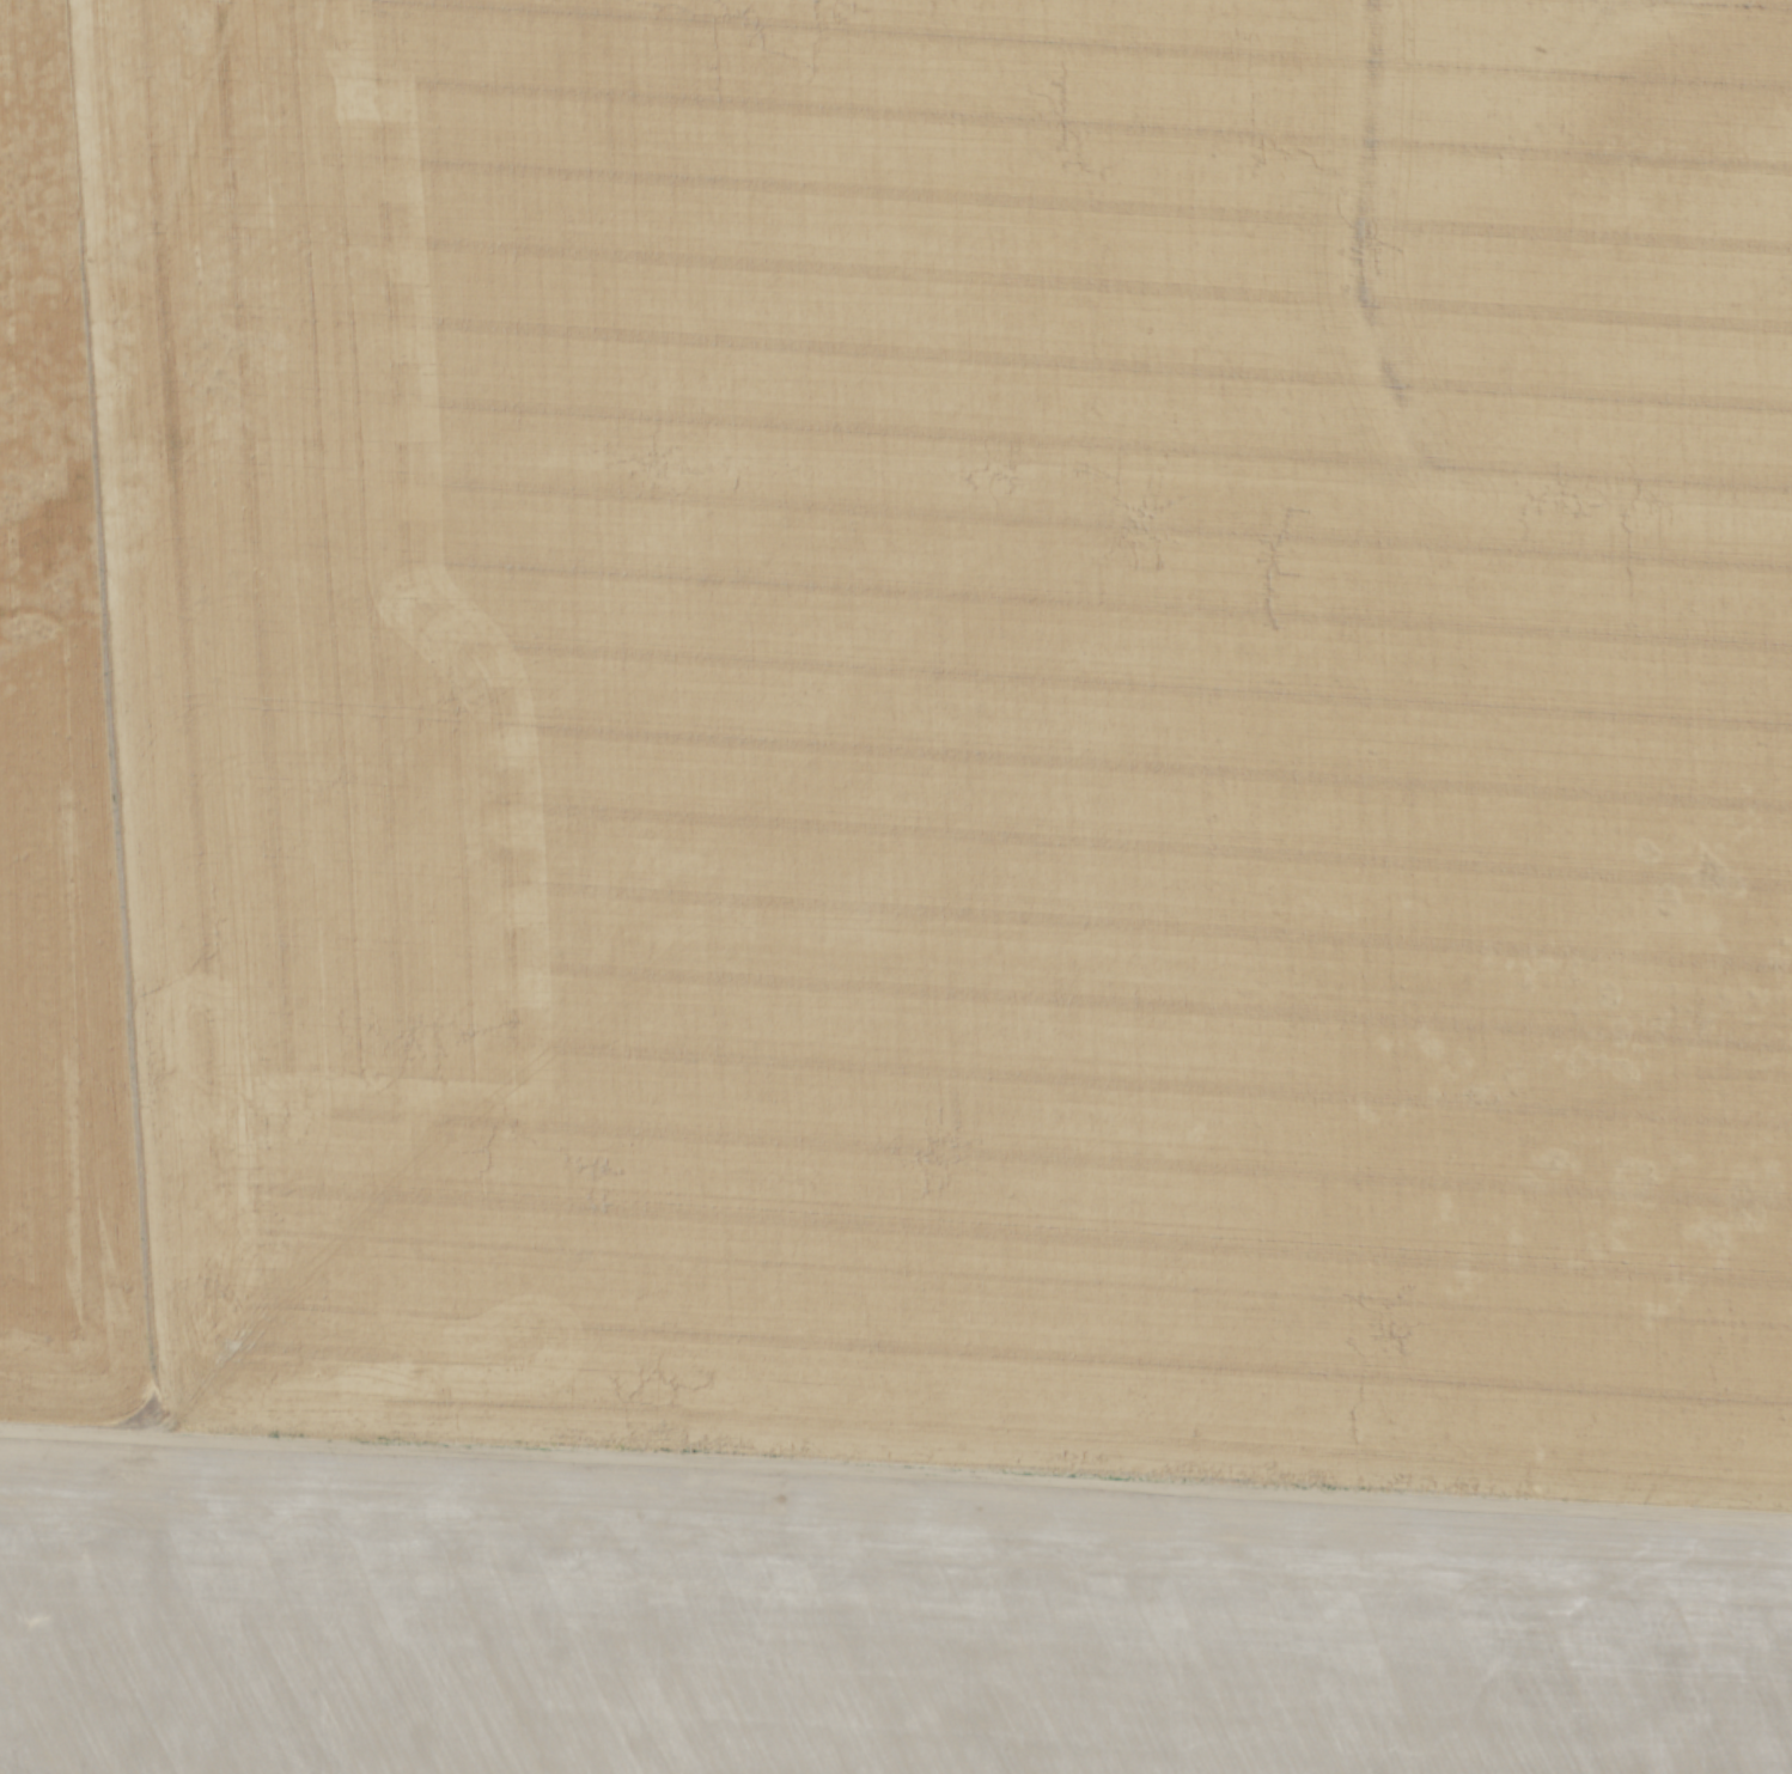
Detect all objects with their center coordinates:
road: (896, 1477)

